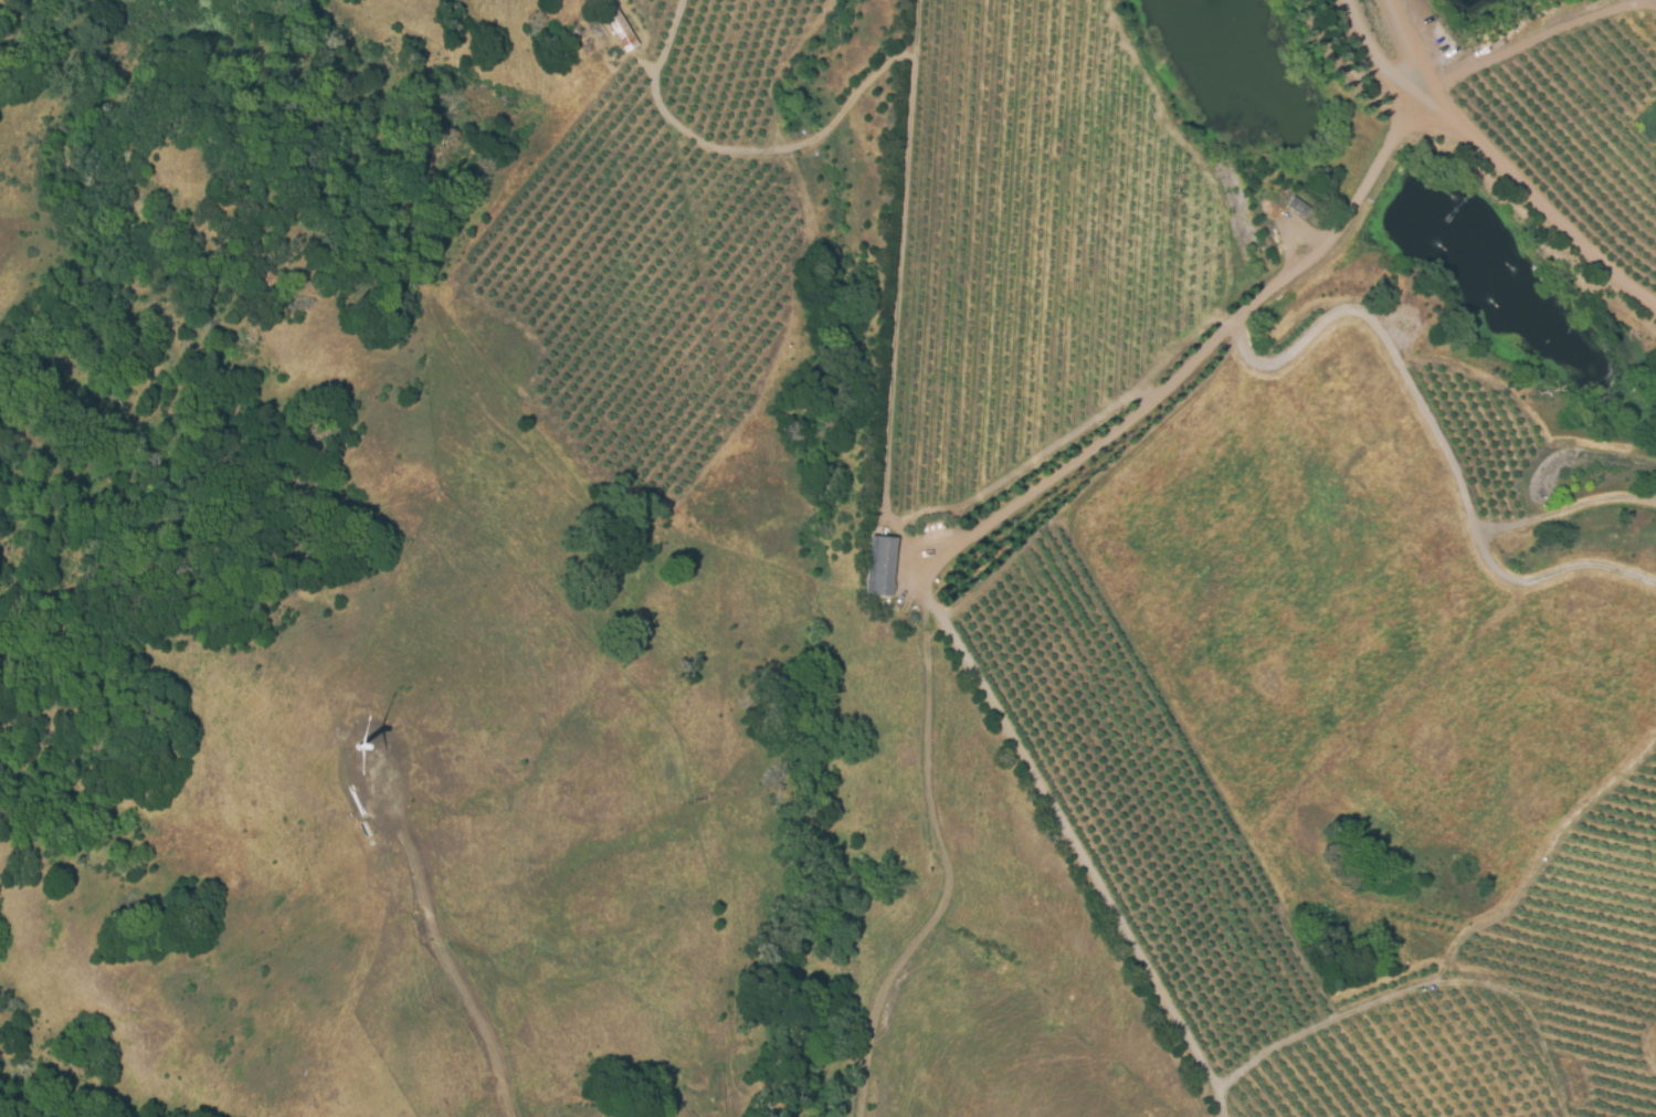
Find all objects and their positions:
road: (1533, 38)
road: (1367, 62)
road: (1499, 167)
building: (880, 566)
wind turbine: (357, 748)

